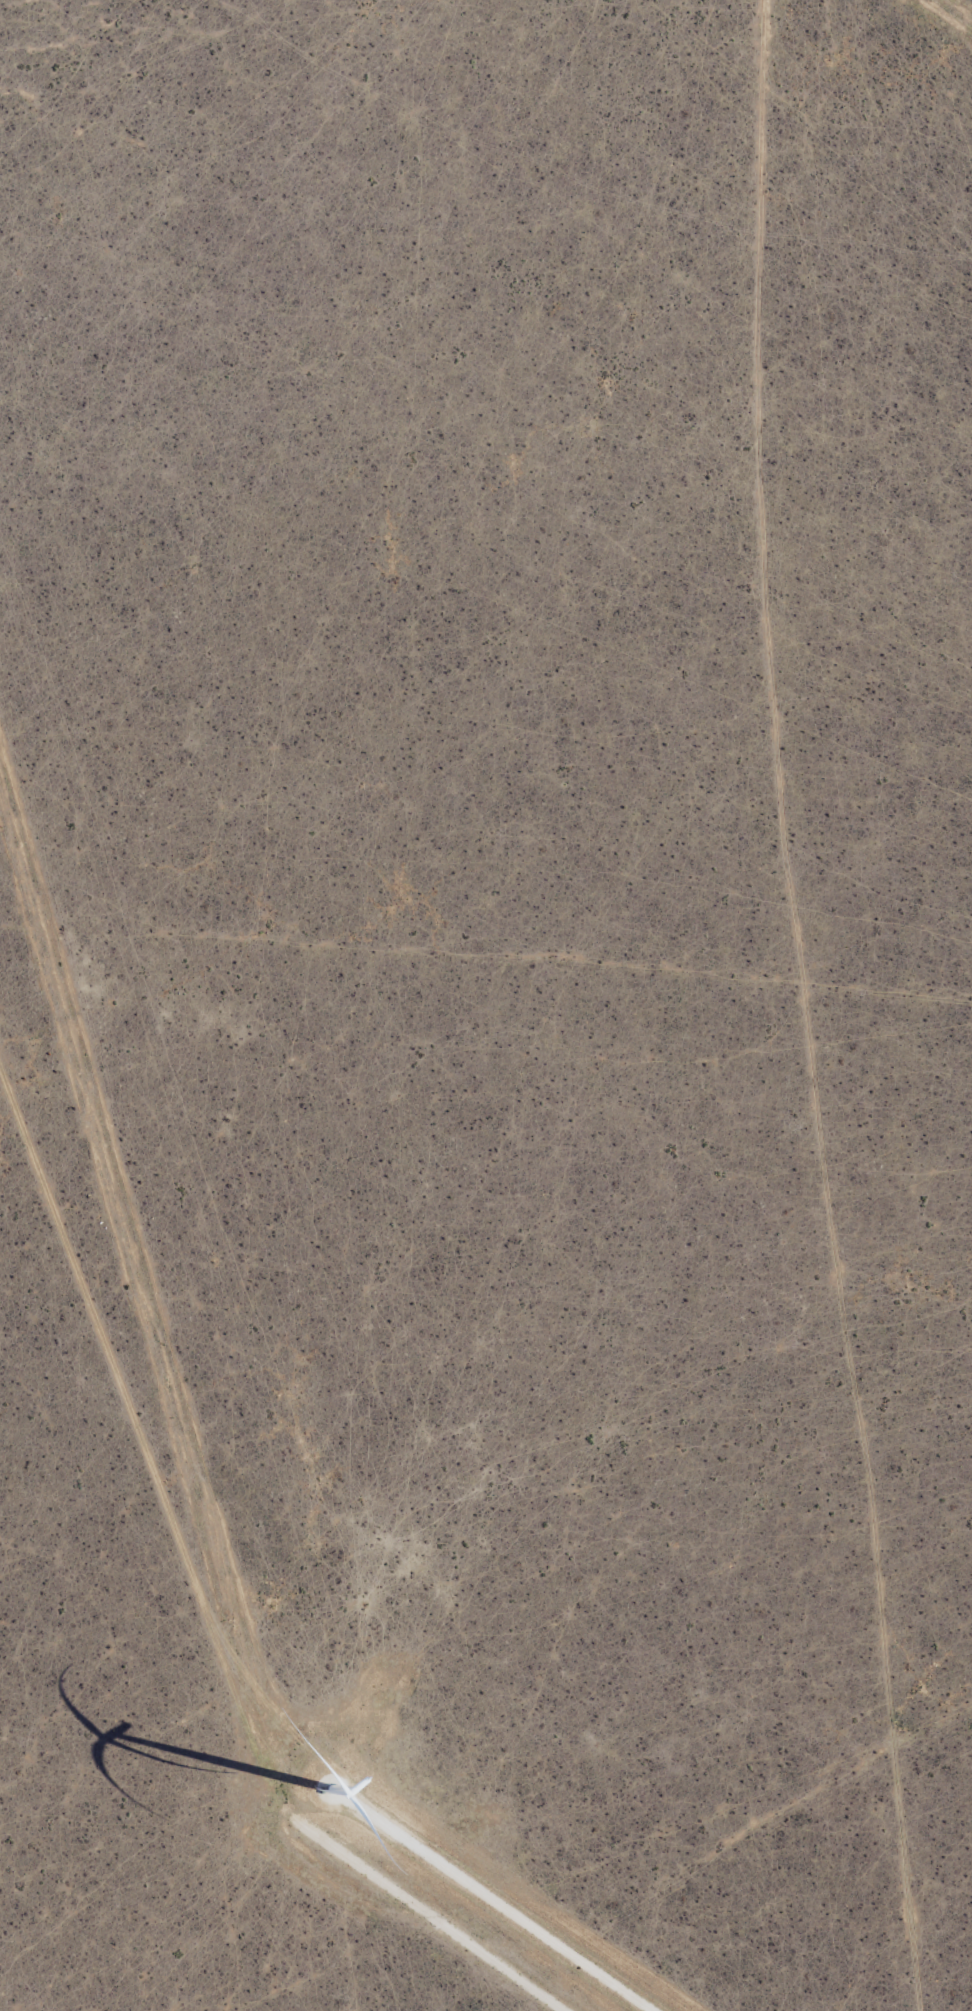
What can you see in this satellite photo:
wind turbine: (326, 1783)

